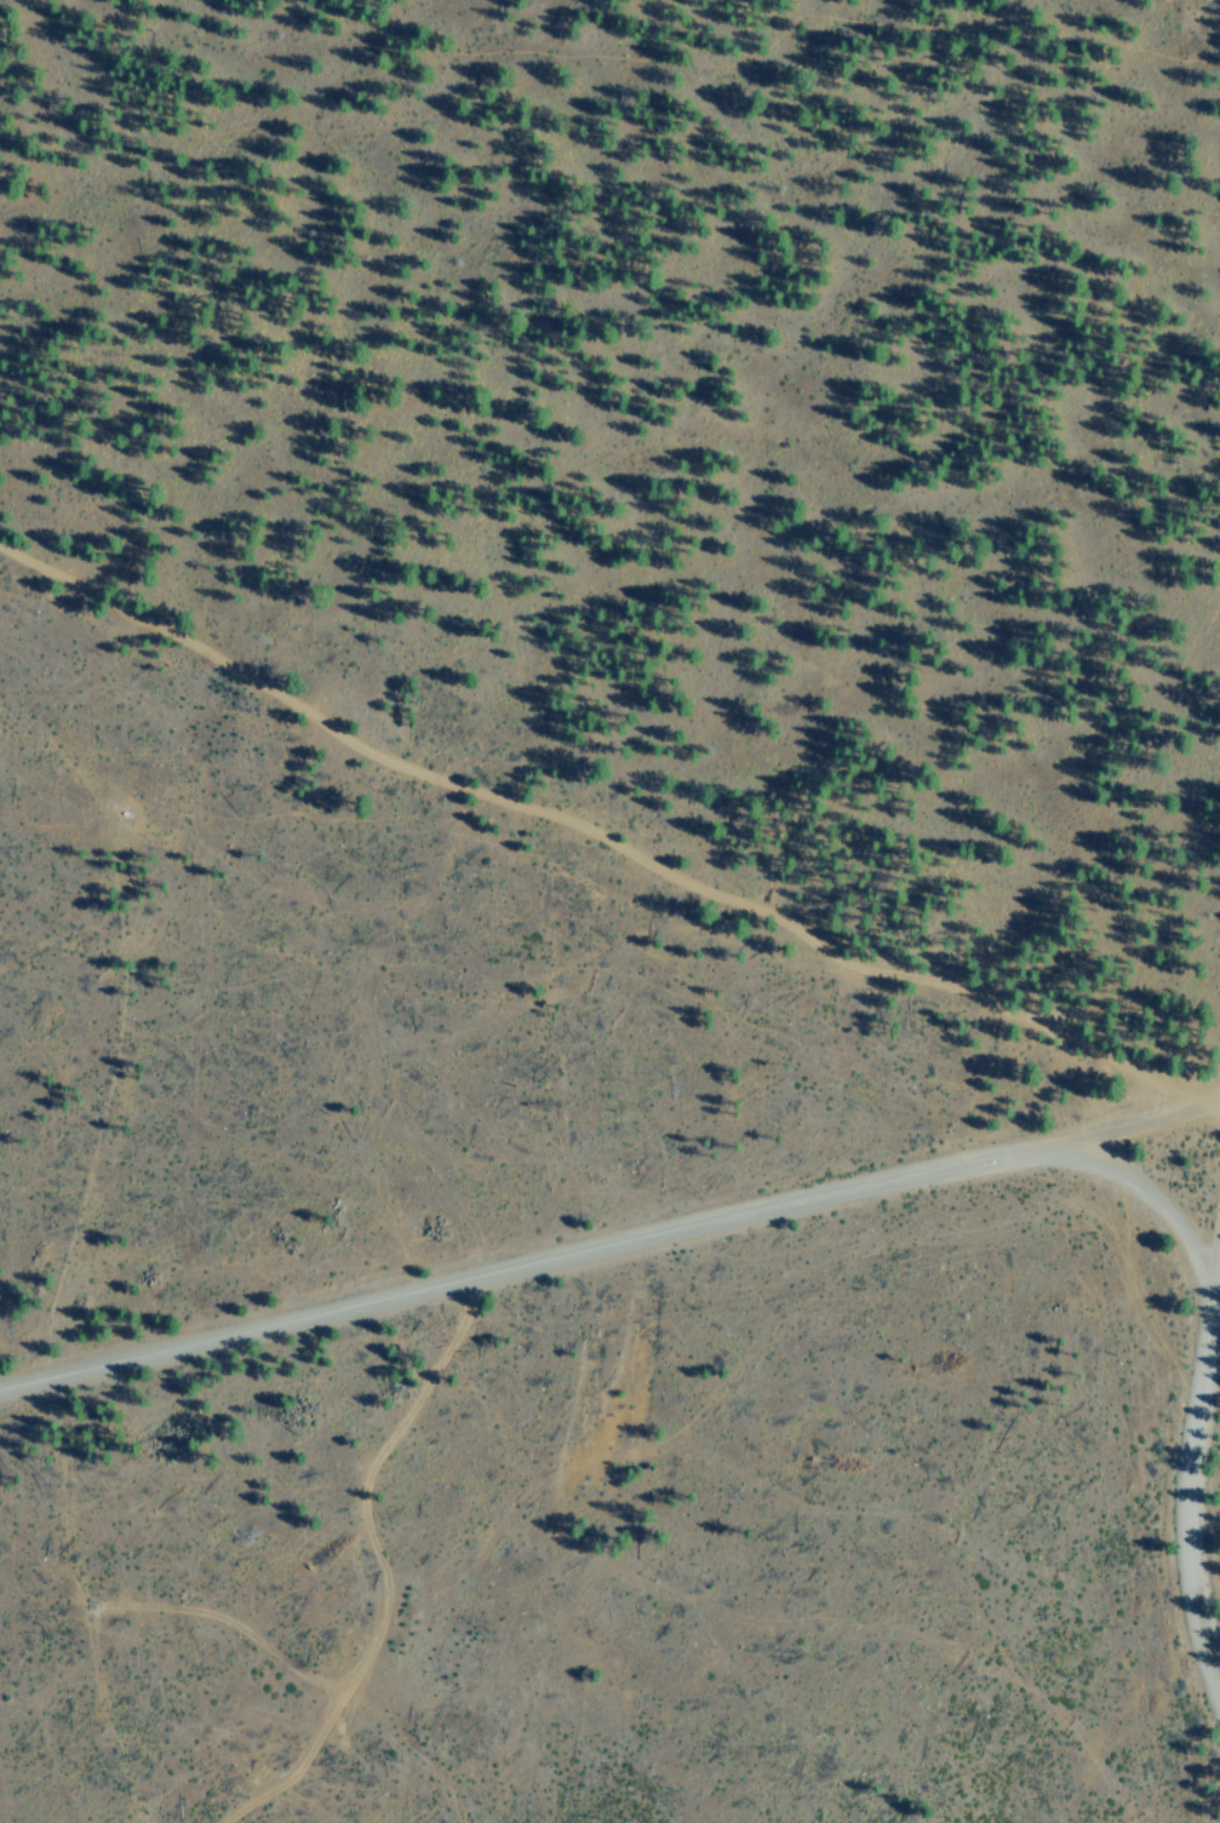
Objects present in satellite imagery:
road: (577, 865)
road: (583, 1233)
road: (1141, 1399)

